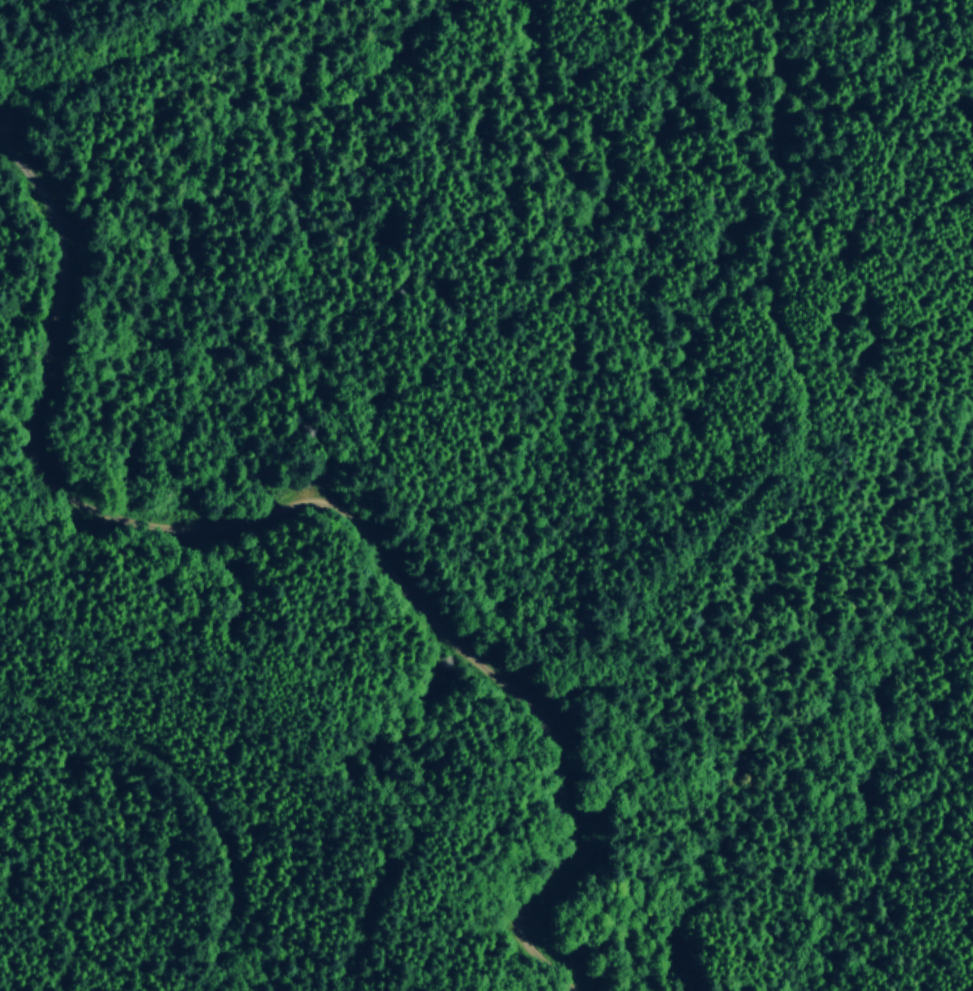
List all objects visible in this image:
road: (22, 460)
road: (324, 502)
road: (196, 784)

